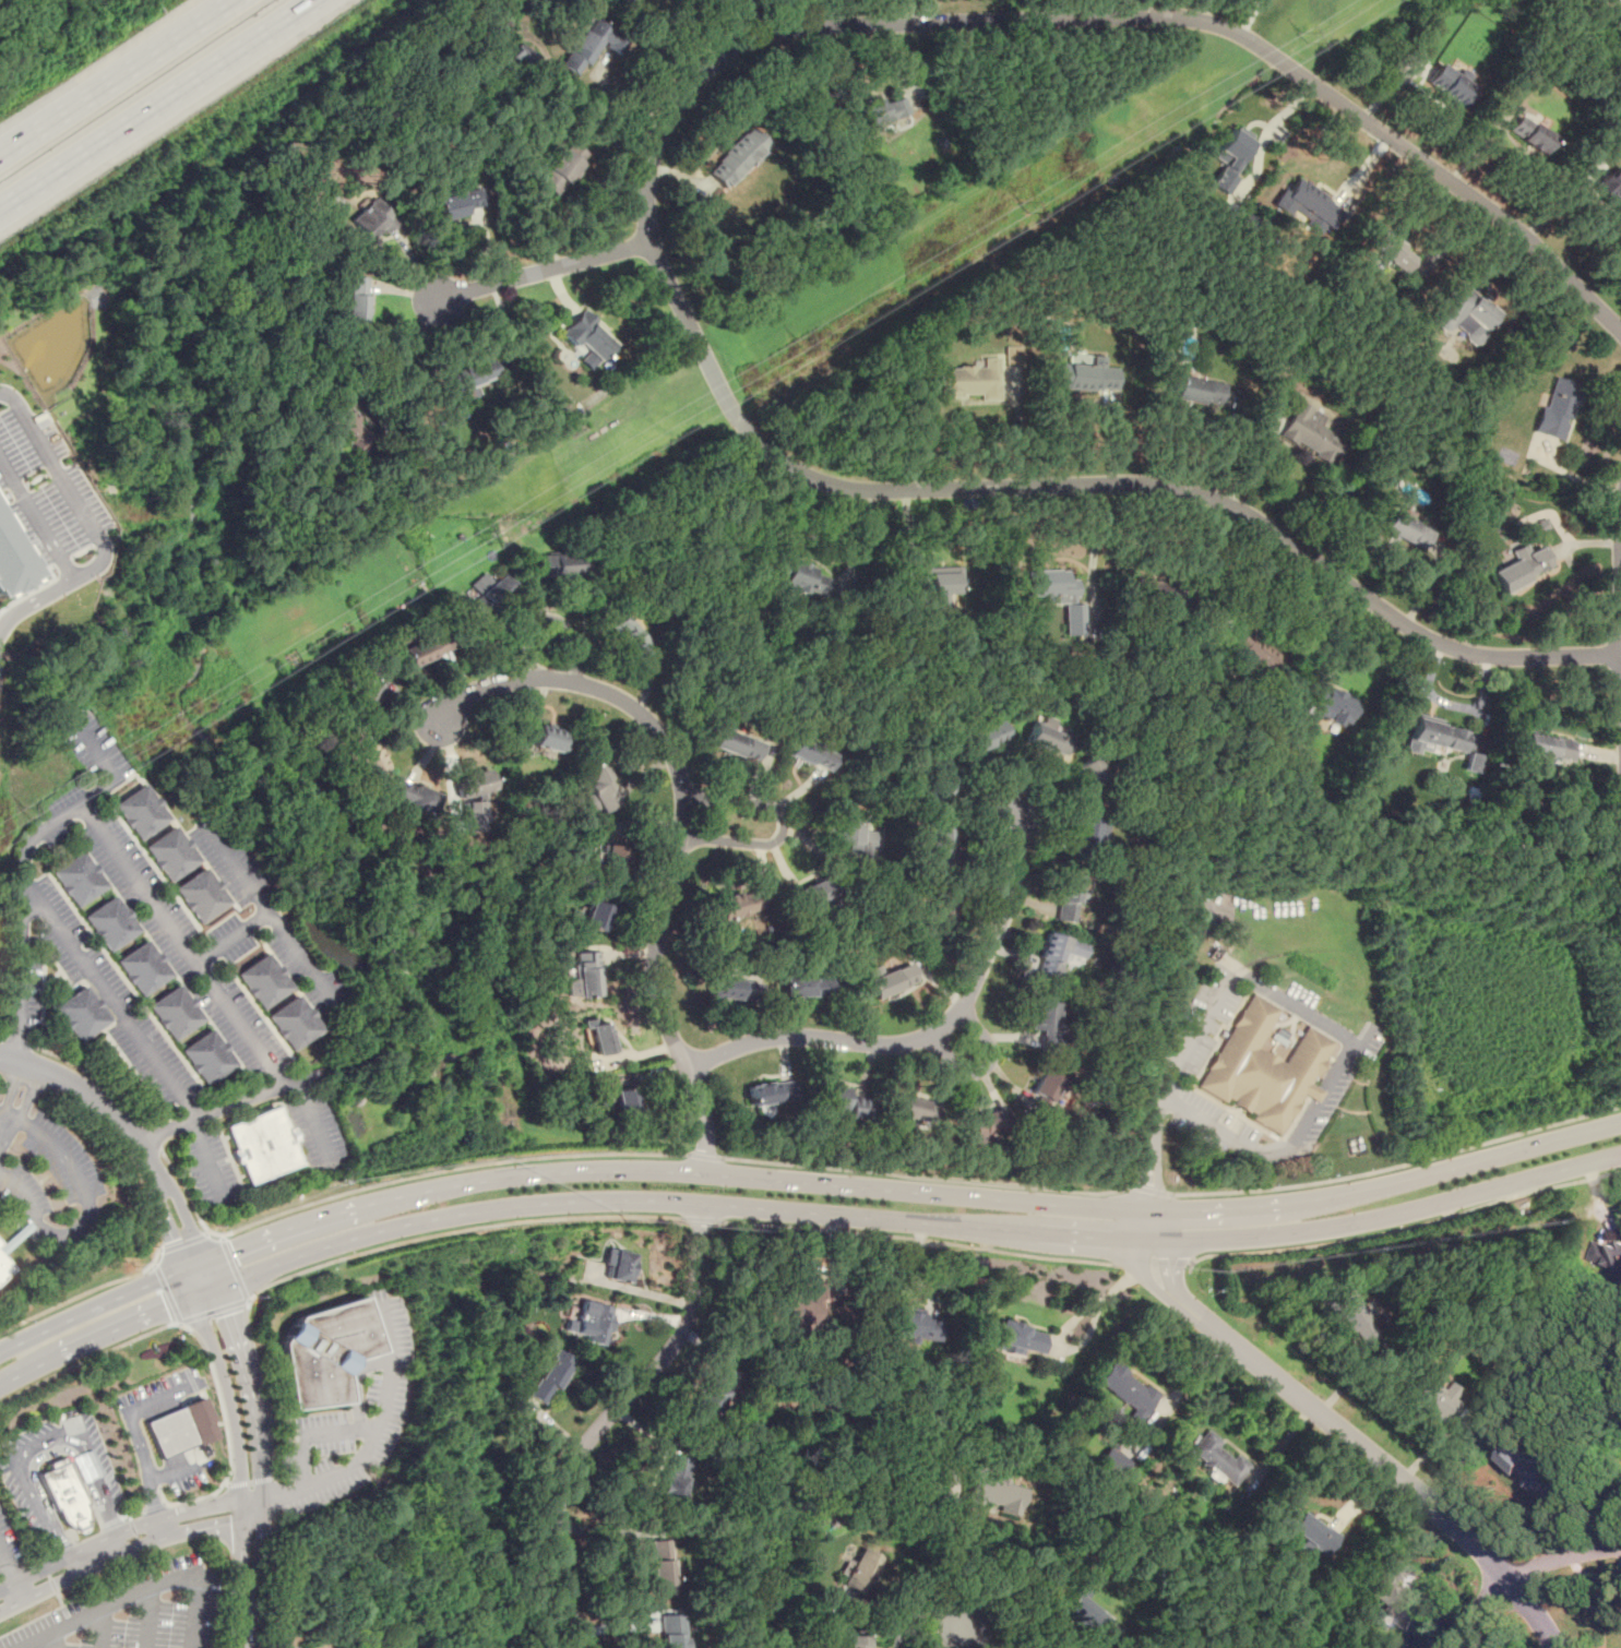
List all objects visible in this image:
road: (1613, 4)
road: (1248, 17)
road: (249, 39)
building: (591, 45)
building: (523, 57)
road: (118, 79)
building: (1447, 85)
building: (882, 117)
building: (1529, 135)
road: (94, 141)
building: (737, 157)
building: (1229, 159)
building: (561, 169)
building: (1606, 180)
building: (1311, 203)
building: (460, 204)
power tower: (1025, 205)
road: (648, 206)
building: (370, 222)
building: (1393, 253)
road: (545, 272)
building: (356, 301)
building: (1459, 312)
building: (586, 338)
road: (409, 350)
building: (1013, 356)
building: (1086, 374)
building: (470, 375)
building: (970, 381)
building: (1196, 391)
building: (1557, 408)
building: (345, 422)
road: (1020, 430)
building: (1311, 433)
building: (1507, 457)
power tower: (553, 488)
road: (36, 520)
road: (85, 525)
building: (1406, 530)
building: (11, 560)
road: (1092, 560)
building: (558, 564)
building: (1522, 570)
building: (806, 578)
building: (1153, 592)
building: (487, 593)
building: (933, 593)
building: (1058, 594)
building: (633, 641)
building: (1253, 647)
building: (425, 649)
building: (377, 690)
building: (1331, 704)
power tower: (207, 707)
building: (982, 737)
building: (1437, 737)
building: (547, 738)
building: (1047, 739)
building: (737, 744)
building: (1548, 748)
building: (811, 751)
building: (369, 752)
building: (1090, 772)
building: (488, 776)
building: (939, 781)
building: (475, 784)
building: (598, 786)
building: (415, 799)
building: (140, 813)
building: (476, 813)
road: (679, 826)
road: (782, 826)
building: (1083, 829)
building: (849, 834)
building: (934, 841)
building: (171, 853)
building: (610, 857)
building: (78, 880)
road: (146, 883)
building: (812, 892)
building: (204, 896)
building: (1065, 897)
building: (744, 901)
road: (259, 904)
building: (939, 908)
building: (594, 915)
building: (109, 923)
building: (1058, 954)
road: (298, 957)
building: (141, 966)
building: (585, 974)
building: (265, 980)
building: (881, 981)
building: (807, 986)
building: (732, 988)
road: (108, 1004)
road: (1292, 1005)
road: (41, 1006)
building: (176, 1011)
building: (81, 1014)
building: (1045, 1022)
building: (295, 1023)
road: (931, 1032)
road: (1, 1038)
building: (601, 1038)
road: (15, 1040)
building: (208, 1055)
building: (1262, 1065)
road: (986, 1070)
road: (94, 1075)
building: (1044, 1086)
building: (771, 1091)
road: (21, 1092)
building: (833, 1096)
road: (94, 1097)
building: (624, 1100)
building: (913, 1110)
road: (310, 1116)
building: (985, 1122)
road: (5, 1132)
road: (152, 1137)
building: (261, 1144)
road: (703, 1156)
road: (207, 1157)
road: (1397, 1163)
road: (925, 1178)
road: (396, 1179)
road: (1151, 1190)
road: (902, 1192)
road: (86, 1203)
road: (677, 1203)
road: (1387, 1217)
road: (700, 1218)
road: (167, 1225)
road: (1403, 1228)
road: (1148, 1229)
road: (192, 1230)
road: (915, 1238)
traffic signals: (174, 1241)
road: (186, 1241)
building: (0, 1243)
traffic signals: (235, 1251)
road: (371, 1251)
road: (1151, 1258)
building: (1612, 1259)
building: (3, 1266)
building: (618, 1266)
road: (207, 1292)
road: (84, 1294)
traffic signals: (180, 1303)
road: (92, 1309)
traffic signals: (224, 1309)
building: (802, 1309)
building: (1352, 1315)
road: (1073, 1319)
building: (593, 1321)
road: (171, 1323)
building: (913, 1324)
building: (1020, 1337)
road: (96, 1339)
building: (324, 1352)
building: (548, 1380)
road: (227, 1383)
building: (713, 1388)
building: (1127, 1389)
road: (355, 1390)
road: (250, 1395)
building: (1431, 1398)
road: (208, 1407)
road: (1320, 1412)
road: (604, 1419)
road: (379, 1424)
building: (171, 1433)
road: (135, 1434)
road: (307, 1435)
road: (1280, 1446)
road: (46, 1447)
building: (1218, 1459)
building: (1112, 1461)
building: (1519, 1461)
building: (671, 1479)
road: (251, 1481)
building: (980, 1490)
road: (273, 1495)
building: (65, 1496)
road: (189, 1500)
road: (274, 1503)
road: (253, 1504)
road: (154, 1506)
road: (158, 1506)
road: (263, 1512)
road: (253, 1514)
road: (128, 1515)
road: (204, 1528)
road: (117, 1532)
building: (1312, 1533)
road: (3, 1554)
road: (1564, 1556)
building: (661, 1567)
road: (81, 1571)
road: (238, 1574)
road: (964, 1575)
building: (855, 1576)
road: (15, 1578)
road: (274, 1580)
road: (257, 1583)
road: (139, 1592)
building: (1395, 1593)
road: (1476, 1610)
building: (1082, 1611)
road: (1535, 1611)
parking lot: (135, 1612)
road: (914, 1613)
road: (147, 1619)
road: (99, 1628)
building: (672, 1631)
road: (55, 1640)
building: (854, 1640)
road: (974, 1640)
building: (406, 1647)
building: (408, 1647)

